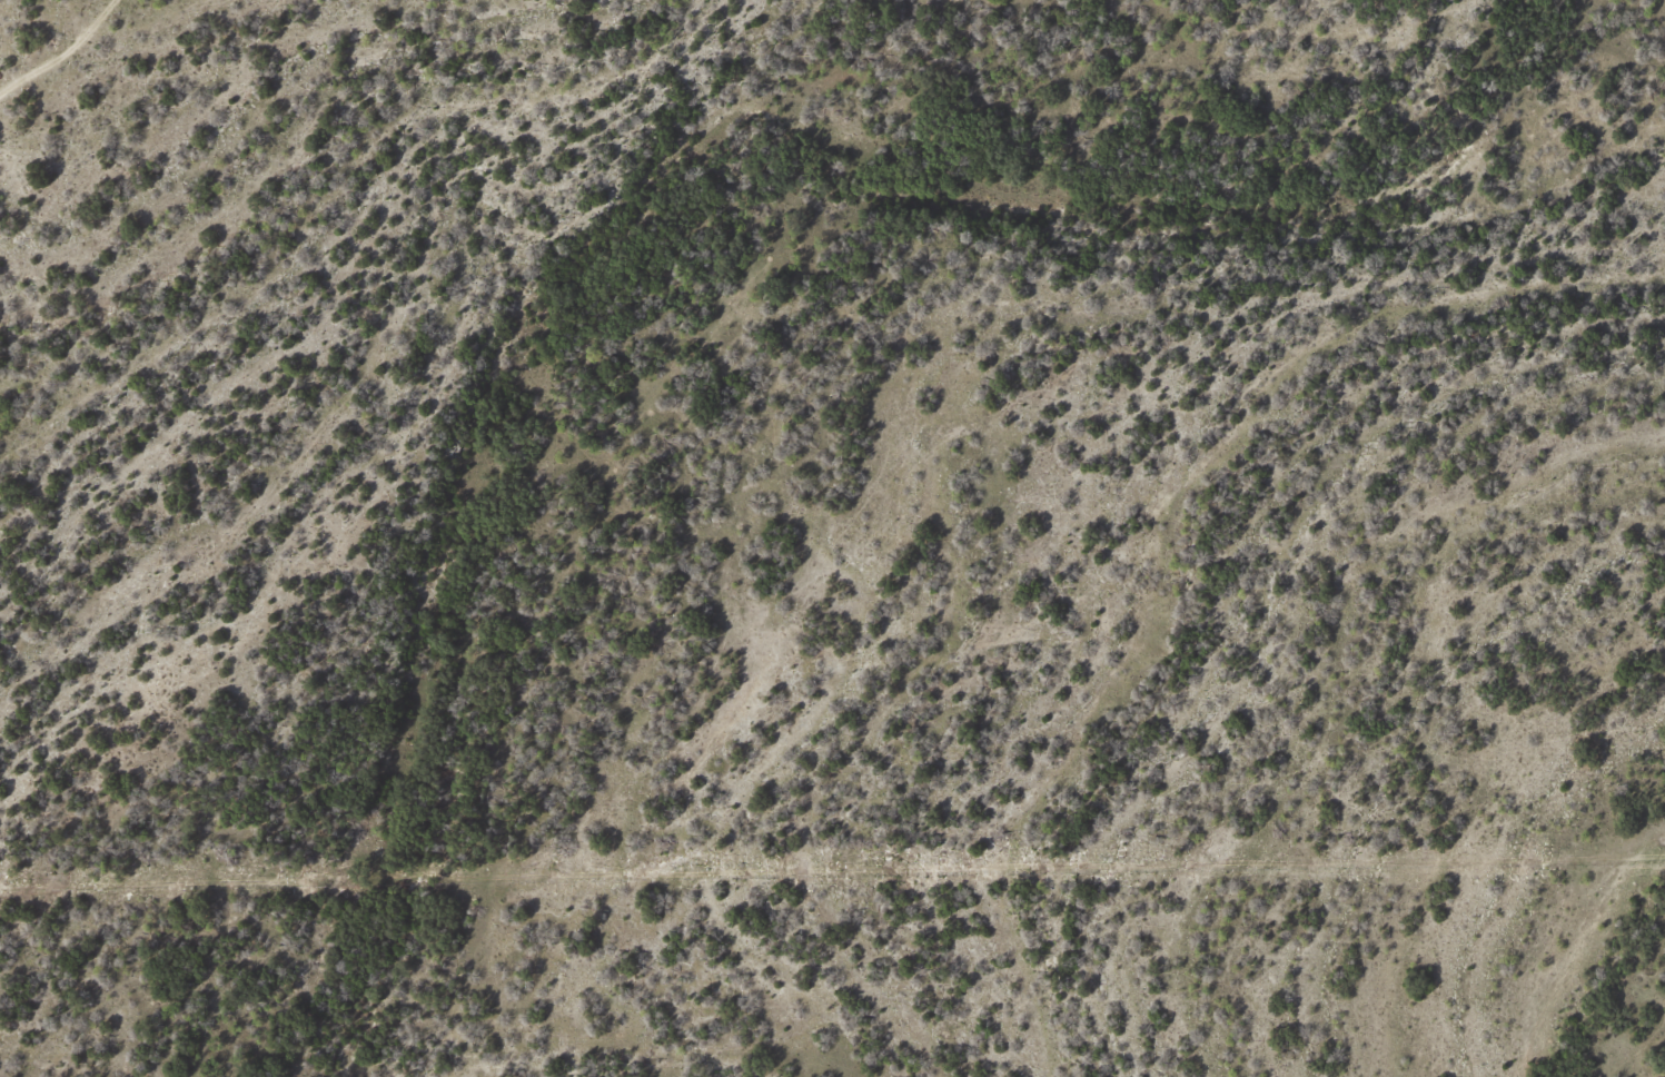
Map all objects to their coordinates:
road: (53, 38)

